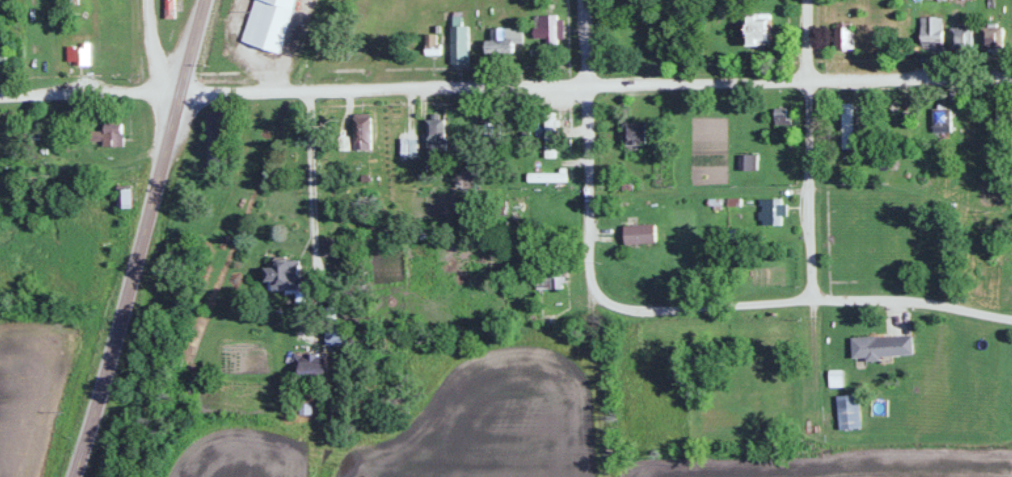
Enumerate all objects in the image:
building: (168, 9)
building: (269, 22)
building: (546, 28)
building: (757, 30)
building: (931, 33)
building: (991, 37)
building: (843, 38)
building: (961, 38)
building: (503, 41)
building: (431, 46)
building: (458, 46)
road: (153, 49)
building: (4, 53)
building: (77, 55)
building: (108, 57)
road: (799, 77)
road: (293, 90)
building: (781, 118)
building: (851, 121)
building: (361, 128)
building: (691, 134)
building: (549, 136)
building: (112, 138)
building: (435, 139)
road: (589, 139)
building: (635, 139)
building: (217, 144)
road: (808, 148)
building: (746, 163)
building: (547, 178)
building: (123, 199)
building: (771, 212)
building: (639, 235)
road: (140, 239)
building: (552, 276)
building: (283, 277)
road: (795, 298)
building: (334, 335)
building: (881, 346)
building: (994, 349)
building: (307, 365)
crop: (27, 390)
building: (847, 412)
crop: (497, 416)
crop: (796, 471)

